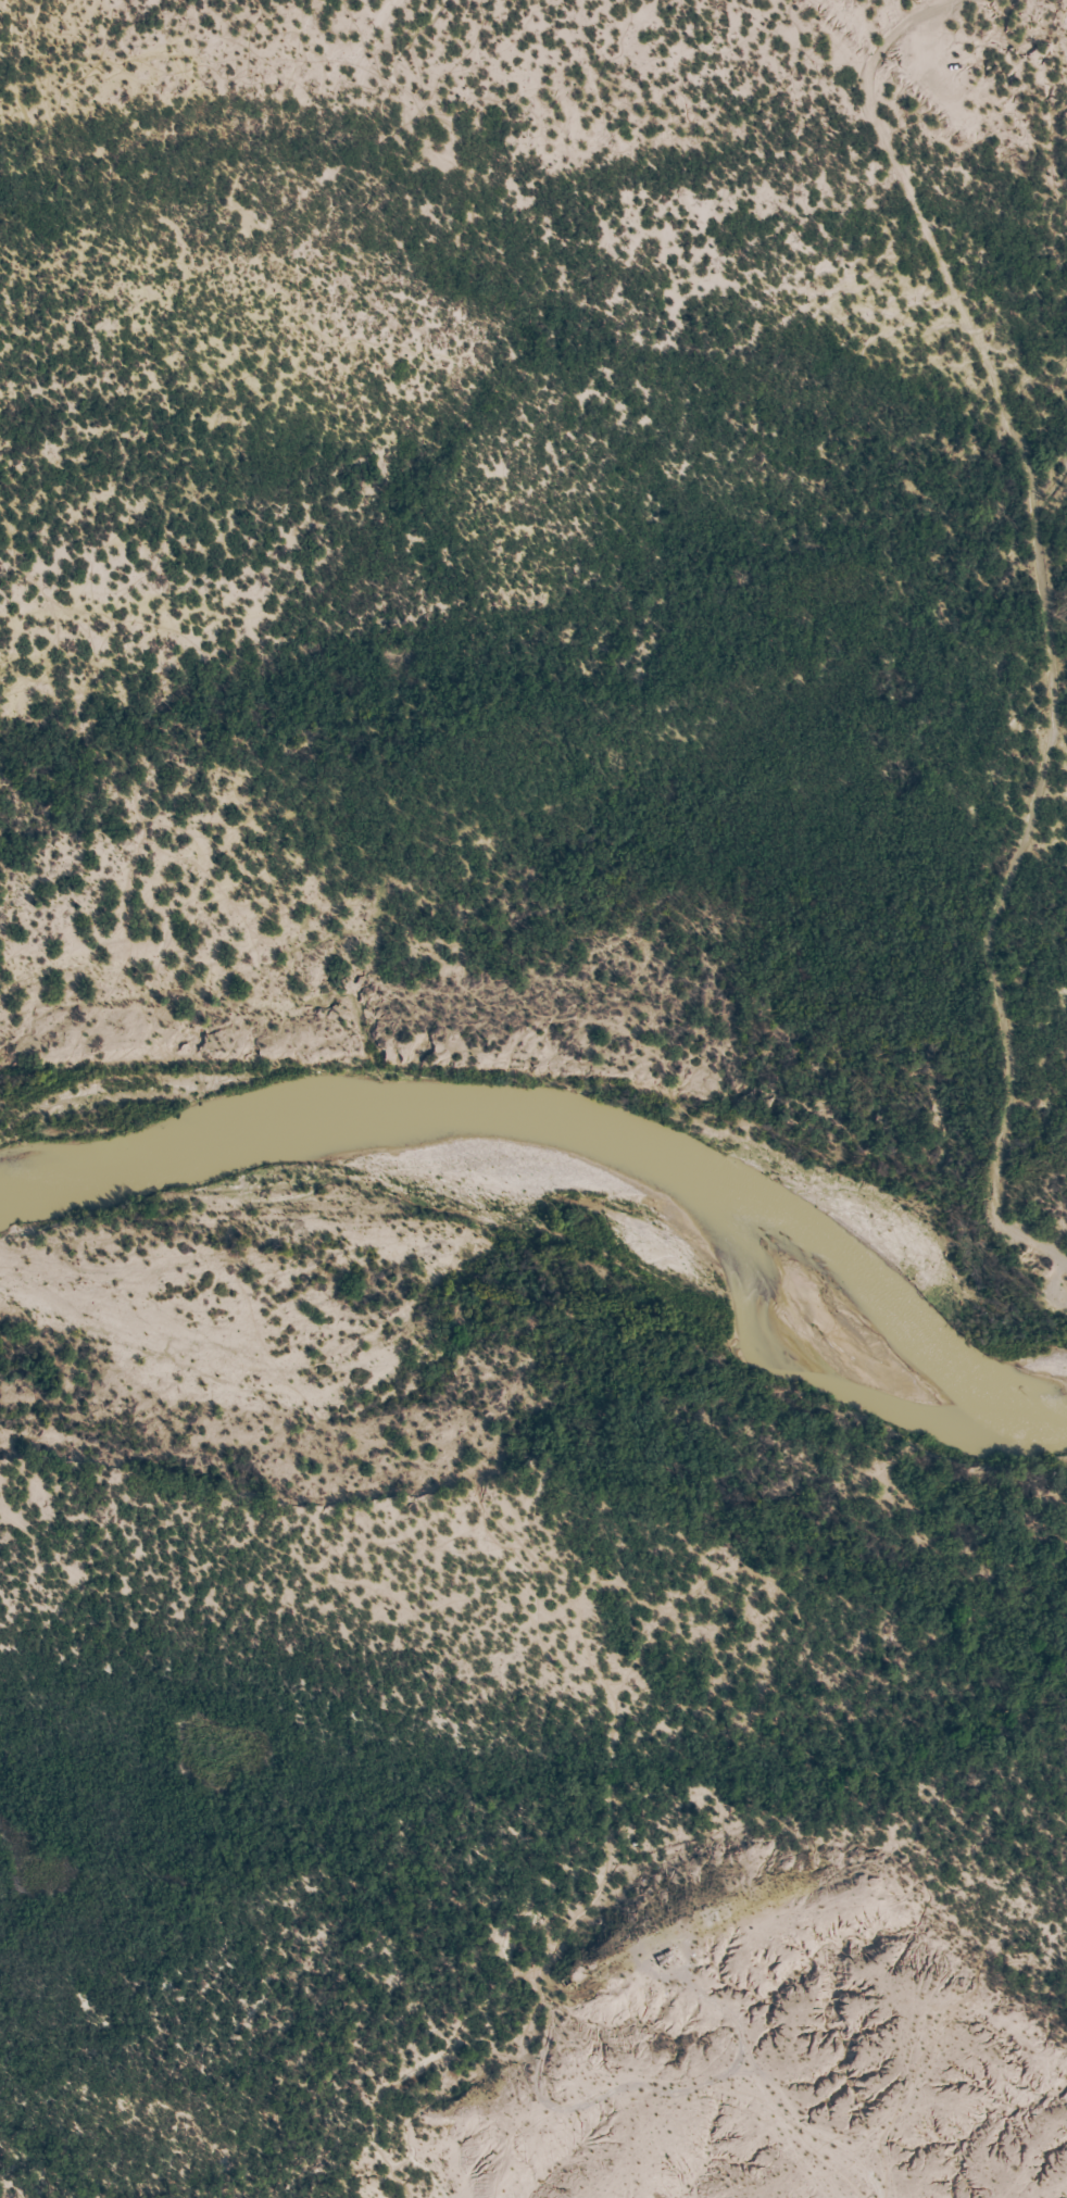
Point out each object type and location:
road: (916, 45)
parking lot: (926, 77)
road: (1017, 124)
road: (1043, 614)
river: (536, 1261)

